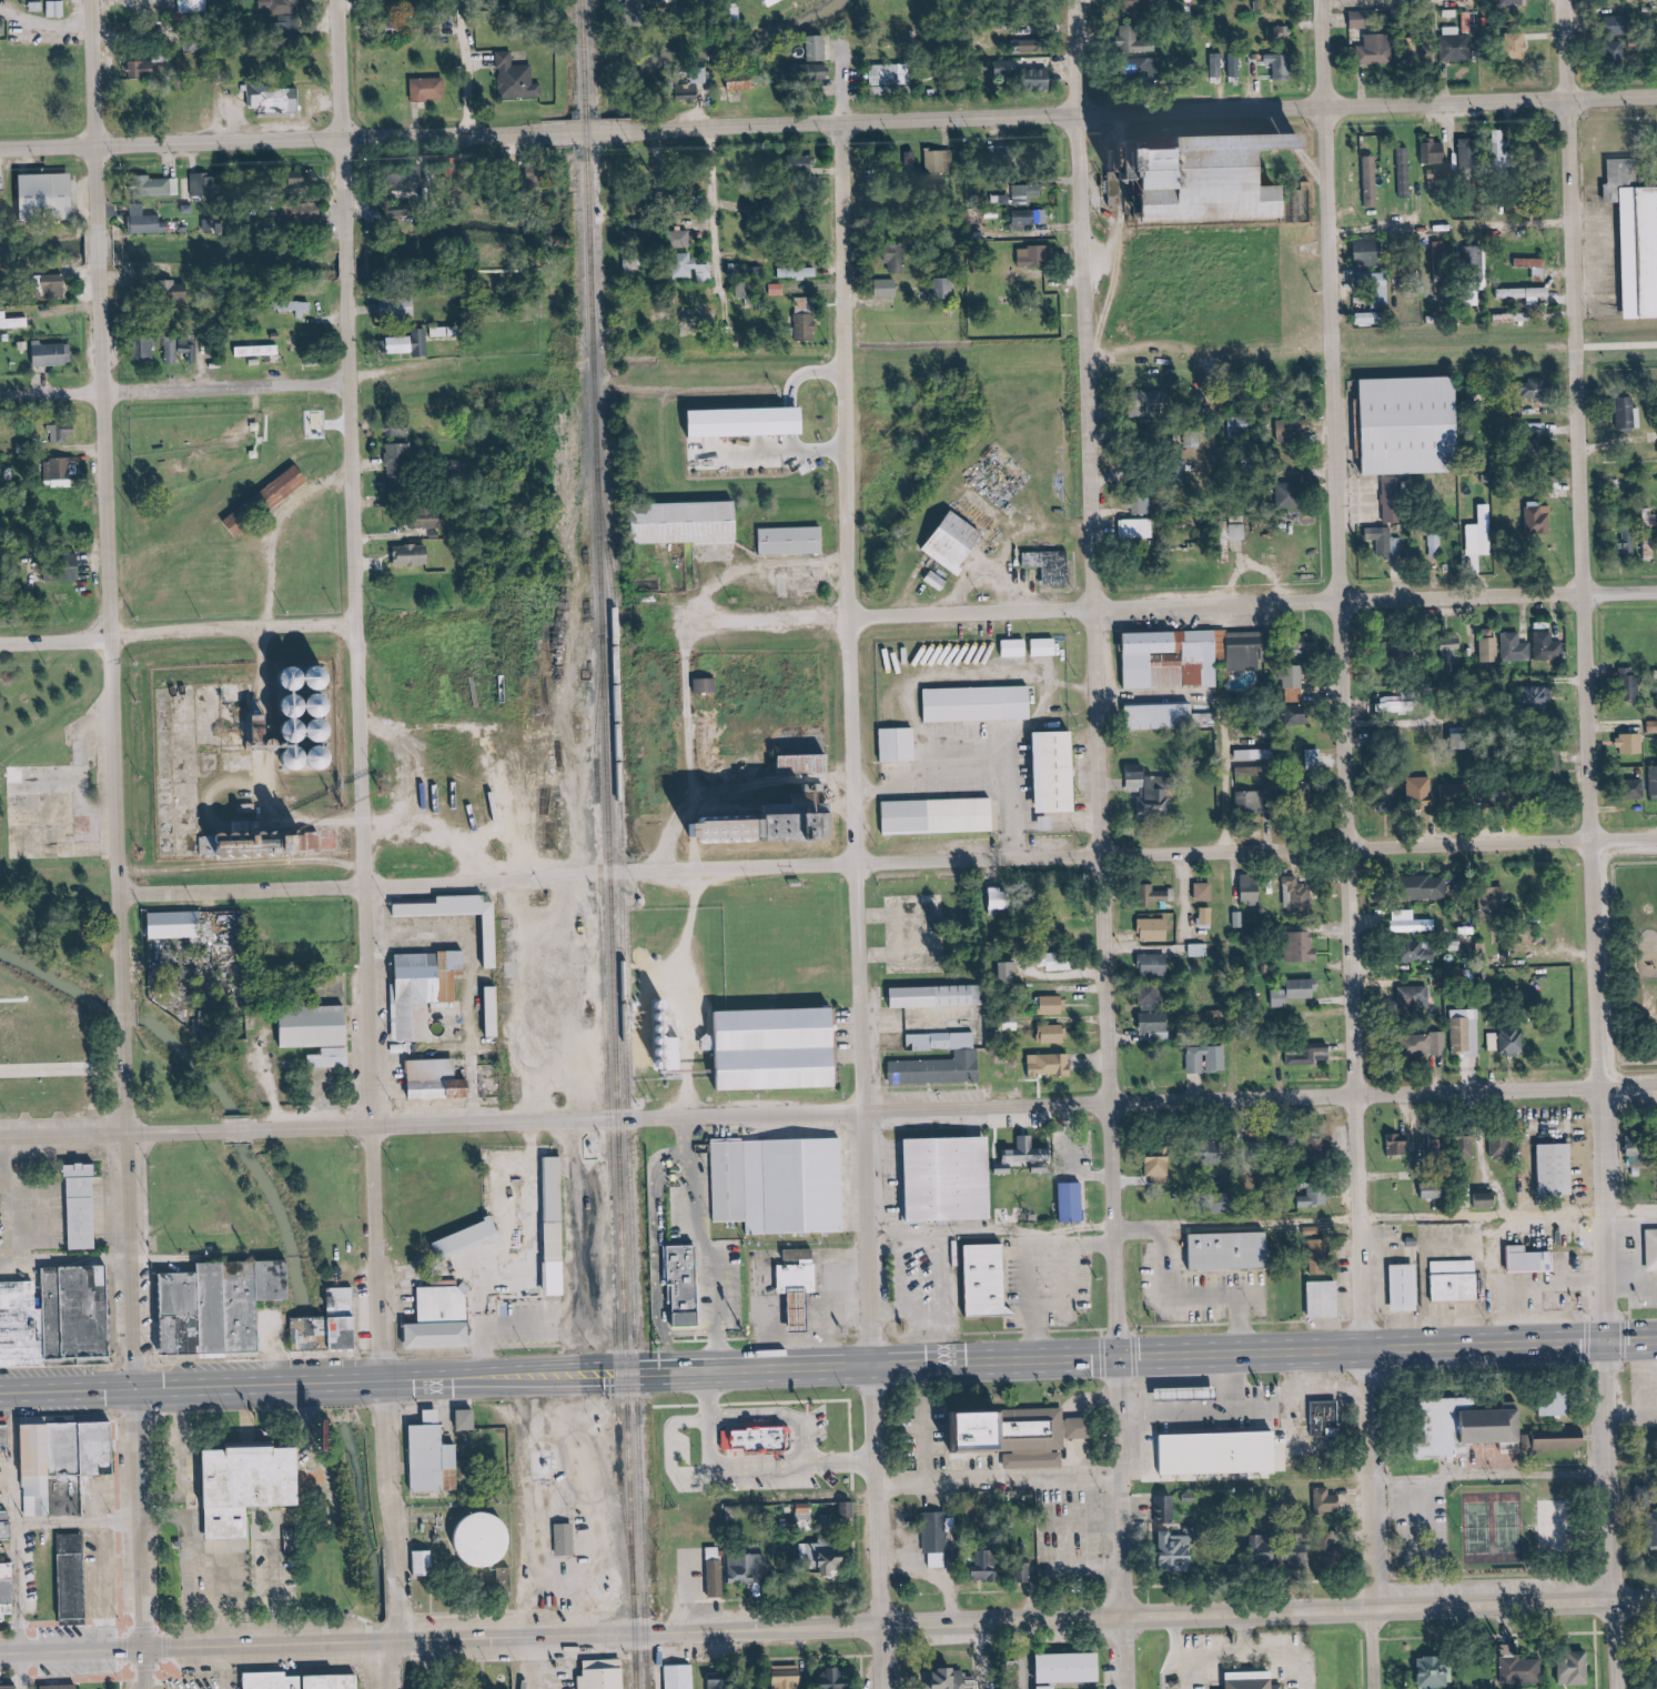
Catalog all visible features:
building: (774, 1)
building: (1513, 2)
building: (38, 6)
building: (194, 6)
building: (282, 6)
building: (58, 8)
building: (1363, 20)
building: (1467, 21)
building: (3, 26)
building: (1280, 32)
building: (1140, 42)
building: (1034, 43)
building: (1519, 46)
building: (818, 47)
building: (1377, 49)
road: (1577, 50)
road: (1335, 53)
road: (1089, 58)
building: (1279, 64)
building: (1215, 66)
building: (1234, 66)
road: (474, 68)
building: (142, 69)
building: (811, 72)
building: (1023, 73)
building: (892, 74)
building: (518, 79)
building: (696, 84)
building: (745, 84)
road: (851, 86)
building: (431, 89)
building: (276, 98)
road: (1188, 112)
road: (358, 138)
building: (1001, 152)
building: (1435, 152)
building: (1469, 152)
building: (807, 161)
building: (938, 161)
building: (1206, 170)
building: (1403, 172)
building: (406, 177)
building: (1371, 181)
building: (208, 185)
building: (165, 187)
building: (1029, 190)
building: (48, 194)
building: (1, 197)
road: (725, 203)
building: (305, 213)
building: (1024, 219)
building: (148, 220)
building: (680, 239)
building: (1644, 250)
building: (1372, 252)
building: (1035, 255)
building: (1442, 257)
building: (1475, 257)
building: (901, 258)
building: (1535, 267)
building: (800, 271)
building: (58, 284)
building: (944, 286)
building: (891, 288)
building: (1377, 289)
building: (1528, 293)
building: (296, 305)
building: (402, 306)
building: (806, 318)
building: (1373, 318)
building: (13, 321)
building: (403, 344)
building: (178, 349)
building: (260, 350)
building: (53, 353)
road: (1375, 353)
railway: (770, 364)
road: (769, 374)
road: (181, 390)
building: (1155, 403)
building: (1628, 413)
building: (754, 421)
building: (1418, 424)
building: (397, 428)
building: (1292, 431)
building: (61, 433)
building: (398, 464)
building: (65, 466)
road: (113, 497)
building: (275, 499)
building: (1141, 503)
building: (1392, 509)
building: (1539, 517)
building: (424, 520)
building: (679, 522)
building: (1138, 527)
building: (1240, 531)
building: (1481, 533)
building: (787, 541)
building: (1386, 541)
building: (959, 542)
building: (414, 554)
building: (1053, 565)
building: (68, 570)
road: (1179, 607)
road: (183, 635)
building: (1457, 642)
building: (1488, 644)
building: (1547, 645)
building: (1009, 647)
building: (1038, 647)
building: (1514, 647)
building: (1245, 651)
building: (1173, 660)
building: (1296, 676)
building: (706, 685)
building: (1538, 697)
building: (971, 704)
building: (1163, 716)
building: (50, 736)
building: (1631, 743)
road: (863, 745)
building: (892, 745)
building: (1315, 758)
building: (811, 763)
building: (1246, 771)
building: (1049, 773)
building: (1653, 783)
building: (37, 785)
building: (1151, 786)
building: (1419, 790)
building: (1451, 792)
building: (933, 816)
road: (374, 821)
building: (776, 823)
building: (1039, 823)
building: (312, 842)
railway: (614, 844)
building: (247, 845)
road: (892, 864)
building: (1251, 888)
building: (1206, 891)
building: (1155, 895)
road: (1603, 895)
building: (1302, 896)
road: (1362, 897)
building: (1003, 898)
building: (1497, 899)
road: (1107, 903)
building: (1237, 918)
building: (1412, 922)
building: (180, 924)
building: (1155, 929)
building: (495, 942)
building: (1305, 946)
building: (1200, 949)
building: (1422, 952)
building: (1062, 962)
building: (1156, 964)
building: (1010, 972)
building: (434, 988)
building: (1295, 992)
building: (936, 996)
building: (1151, 997)
building: (1415, 997)
building: (1054, 1005)
building: (496, 1011)
road: (133, 1012)
building: (1155, 1022)
building: (324, 1026)
building: (1466, 1031)
building: (669, 1034)
building: (1055, 1034)
building: (944, 1040)
building: (1494, 1040)
building: (1513, 1040)
building: (1428, 1044)
building: (780, 1048)
building: (1310, 1055)
building: (341, 1057)
building: (1208, 1058)
building: (1050, 1064)
road: (1633, 1064)
building: (938, 1069)
building: (448, 1079)
road: (964, 1109)
road: (249, 1128)
road: (113, 1134)
building: (1323, 1143)
building: (1398, 1144)
building: (1502, 1144)
building: (1439, 1145)
building: (1644, 1150)
building: (1022, 1156)
road: (694, 1159)
building: (1159, 1167)
road: (700, 1168)
building: (1565, 1169)
building: (954, 1173)
road: (542, 1176)
road: (70, 1180)
building: (788, 1186)
road: (72, 1189)
road: (669, 1189)
building: (1317, 1194)
road: (74, 1196)
building: (1488, 1199)
building: (1073, 1202)
road: (77, 1203)
building: (84, 1206)
road: (77, 1209)
road: (78, 1216)
road: (1385, 1219)
road: (78, 1221)
building: (564, 1223)
road: (11, 1225)
road: (78, 1227)
road: (77, 1234)
building: (476, 1236)
road: (78, 1241)
road: (1099, 1244)
building: (1656, 1244)
building: (1236, 1248)
building: (1320, 1251)
road: (579, 1256)
road: (78, 1257)
building: (1537, 1259)
building: (1463, 1265)
road: (1084, 1271)
building: (807, 1276)
building: (994, 1279)
building: (689, 1285)
building: (1413, 1286)
road: (729, 1294)
building: (1333, 1297)
road: (1198, 1298)
road: (1034, 1303)
building: (229, 1304)
building: (71, 1310)
gas station: (808, 1311)
building: (352, 1318)
building: (449, 1319)
building: (19, 1320)
road: (496, 1325)
road: (1250, 1325)
road: (539, 1328)
road: (1130, 1328)
building: (311, 1333)
road: (902, 1336)
traffic signals: (1618, 1339)
road: (289, 1347)
road: (730, 1348)
road: (678, 1349)
road: (148, 1357)
traffic signals: (1121, 1358)
road: (196, 1363)
road: (828, 1367)
traffic signals: (143, 1387)
gas station: (1194, 1391)
building: (1565, 1396)
road: (1654, 1397)
road: (1590, 1398)
road: (1395, 1405)
road: (72, 1418)
building: (1326, 1418)
building: (475, 1419)
road: (1637, 1422)
building: (829, 1424)
building: (1475, 1426)
road: (1416, 1428)
building: (1032, 1434)
building: (758, 1438)
building: (1, 1439)
building: (1567, 1439)
road: (1596, 1439)
building: (788, 1448)
building: (1245, 1450)
road: (192, 1452)
building: (54, 1456)
building: (442, 1456)
building: (805, 1467)
building: (836, 1471)
road: (1602, 1472)
road: (1499, 1478)
building: (254, 1484)
building: (1328, 1501)
road: (91, 1502)
road: (1398, 1505)
road: (334, 1507)
building: (1168, 1508)
park: (1568, 1520)
road: (8, 1522)
road: (77, 1522)
road: (888, 1527)
building: (1, 1530)
park: (1503, 1530)
building: (937, 1537)
building: (574, 1540)
building: (492, 1542)
storage tank: (492, 1542)
park: (1502, 1542)
building: (1179, 1551)
building: (832, 1556)
road: (196, 1559)
building: (434, 1561)
building: (756, 1568)
building: (989, 1570)
building: (68, 1577)
building: (725, 1578)
road: (1503, 1578)
building: (513, 1579)
road: (1060, 1591)
building: (2, 1592)
road: (501, 1610)
road: (828, 1629)
road: (1286, 1652)
road: (1210, 1653)
road: (835, 1656)
road: (994, 1656)
road: (1037, 1656)
road: (580, 1661)
road: (473, 1662)
park: (468, 1663)
road: (544, 1663)
building: (1075, 1665)
road: (397, 1666)
road: (242, 1668)
building: (1574, 1668)
road: (1182, 1669)
building: (1522, 1669)
road: (30, 1671)
building: (1437, 1671)
road: (873, 1672)
building: (612, 1673)
parking lot: (209, 1676)
building: (680, 1677)
building: (789, 1677)
building: (953, 1678)
building: (1262, 1678)
building: (277, 1679)
building: (831, 1679)
road: (65, 1680)
building: (337, 1680)
flagpole: (373, 1680)
flagpole: (514, 1680)
road: (132, 1683)
road: (89, 1685)
building: (69, 1686)
building: (13, 1687)
building: (721, 1687)
building: (1051, 1687)

